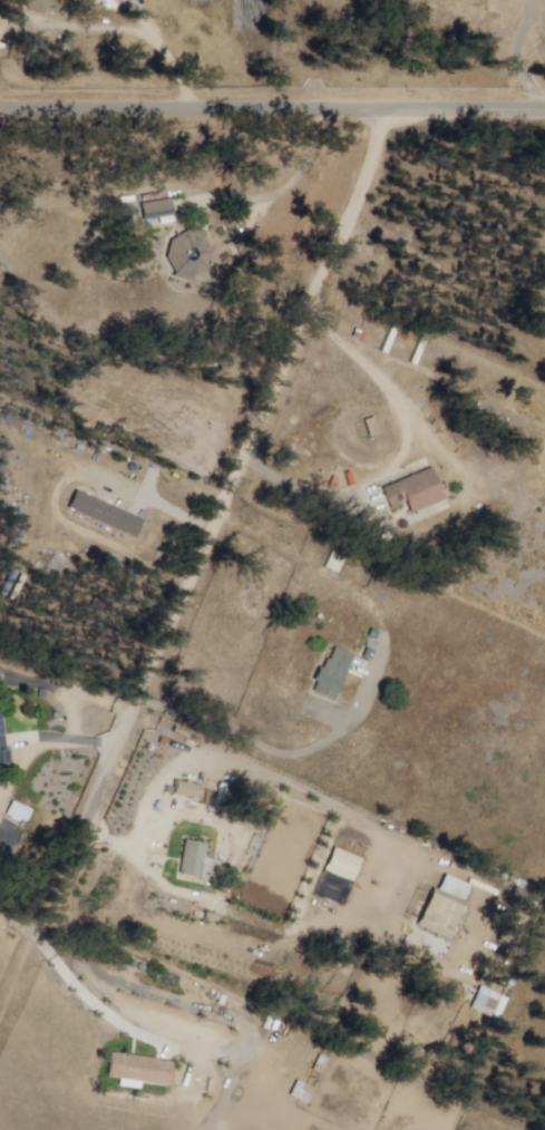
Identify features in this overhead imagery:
building: (37, 4)
road: (136, 12)
road: (98, 29)
road: (524, 50)
road: (171, 64)
road: (272, 105)
road: (303, 174)
building: (157, 208)
building: (188, 253)
road: (305, 490)
building: (416, 491)
building: (106, 513)
building: (330, 561)
road: (202, 567)
building: (0, 673)
building: (332, 673)
storage tank: (55, 715)
road: (79, 741)
building: (3, 754)
building: (183, 791)
building: (18, 811)
building: (196, 861)
building: (341, 867)
building: (444, 905)
road: (21, 922)
storage tank: (134, 964)
storage tank: (144, 967)
building: (502, 994)
road: (93, 1004)
building: (138, 1069)

